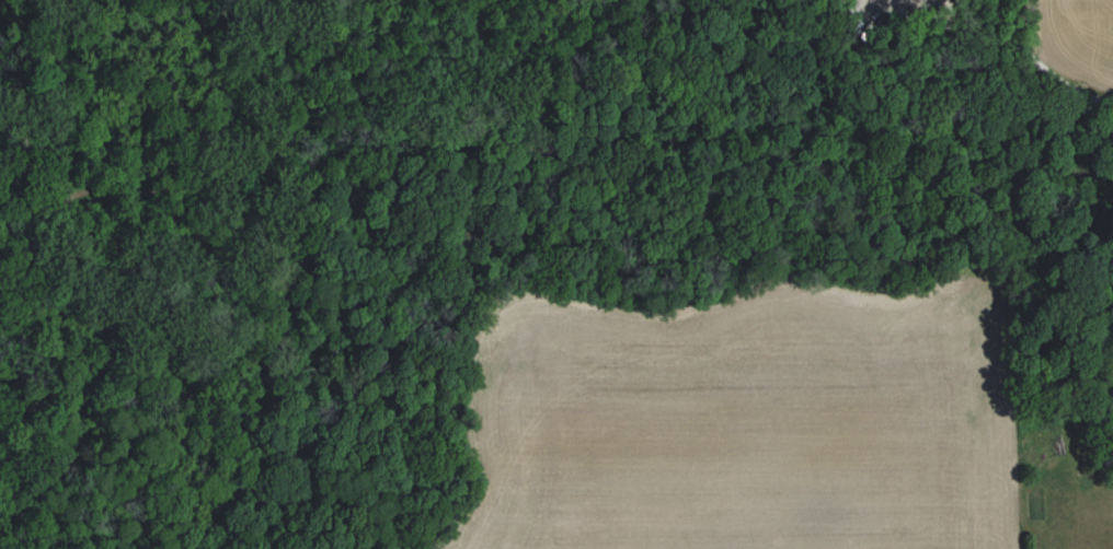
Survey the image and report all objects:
crop: (1077, 37)
road: (1033, 58)

